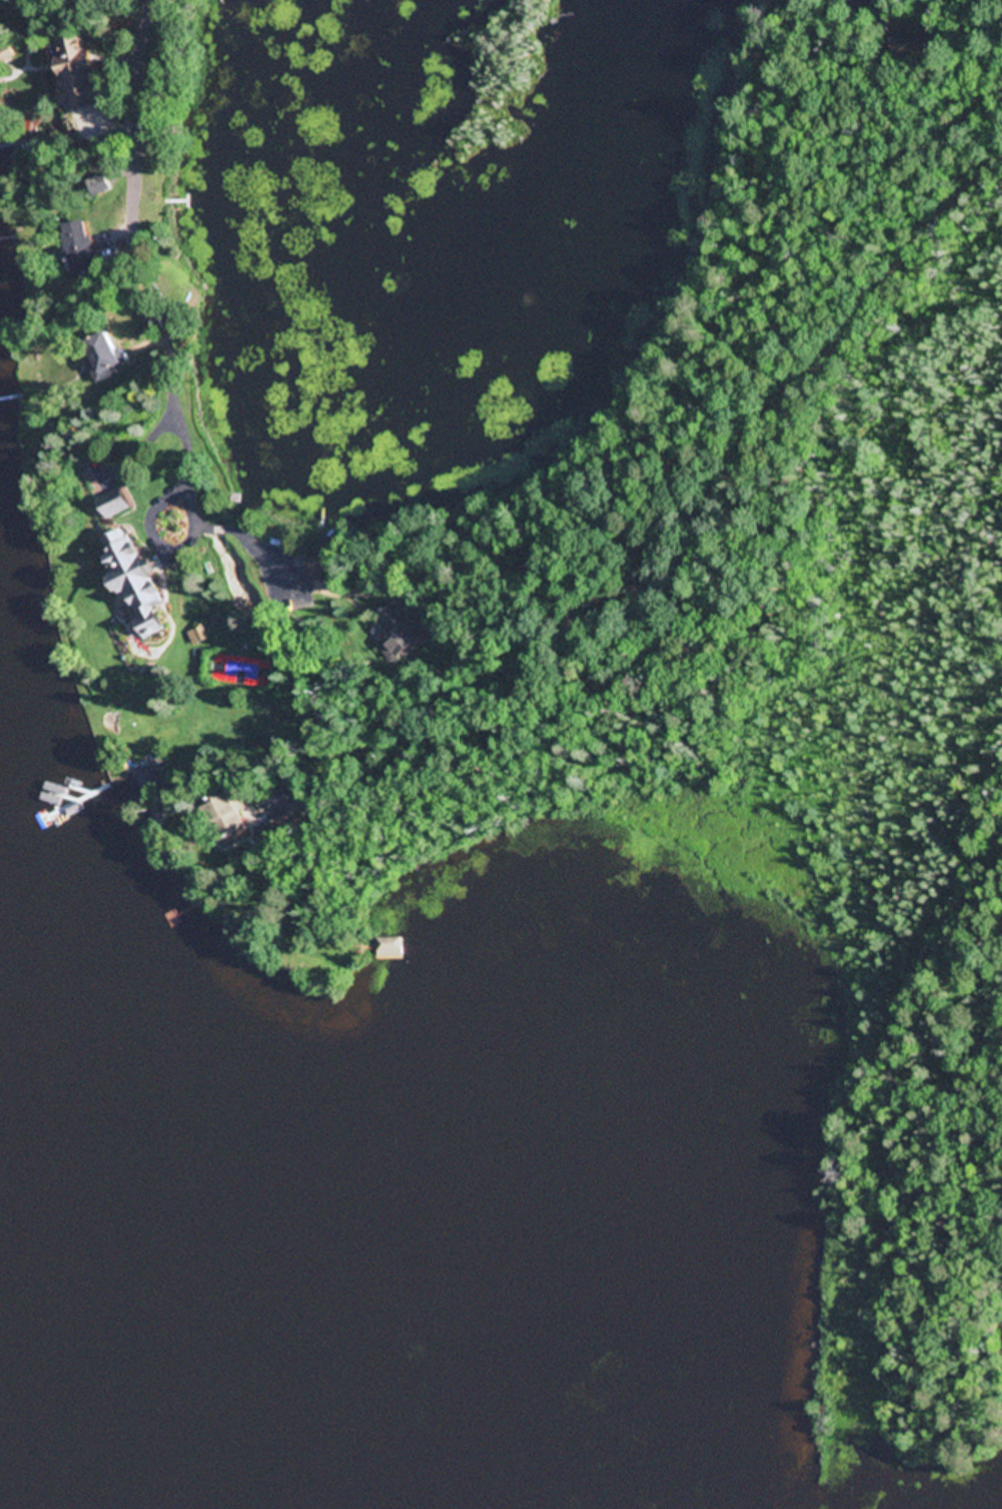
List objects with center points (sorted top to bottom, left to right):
building: (5, 53)
building: (80, 72)
road: (144, 131)
building: (81, 247)
building: (152, 322)
road: (838, 341)
building: (105, 357)
road: (174, 398)
building: (117, 504)
road: (220, 528)
building: (319, 561)
building: (136, 579)
building: (398, 635)
road: (455, 719)
building: (229, 815)
building: (390, 948)
river: (30, 1469)

